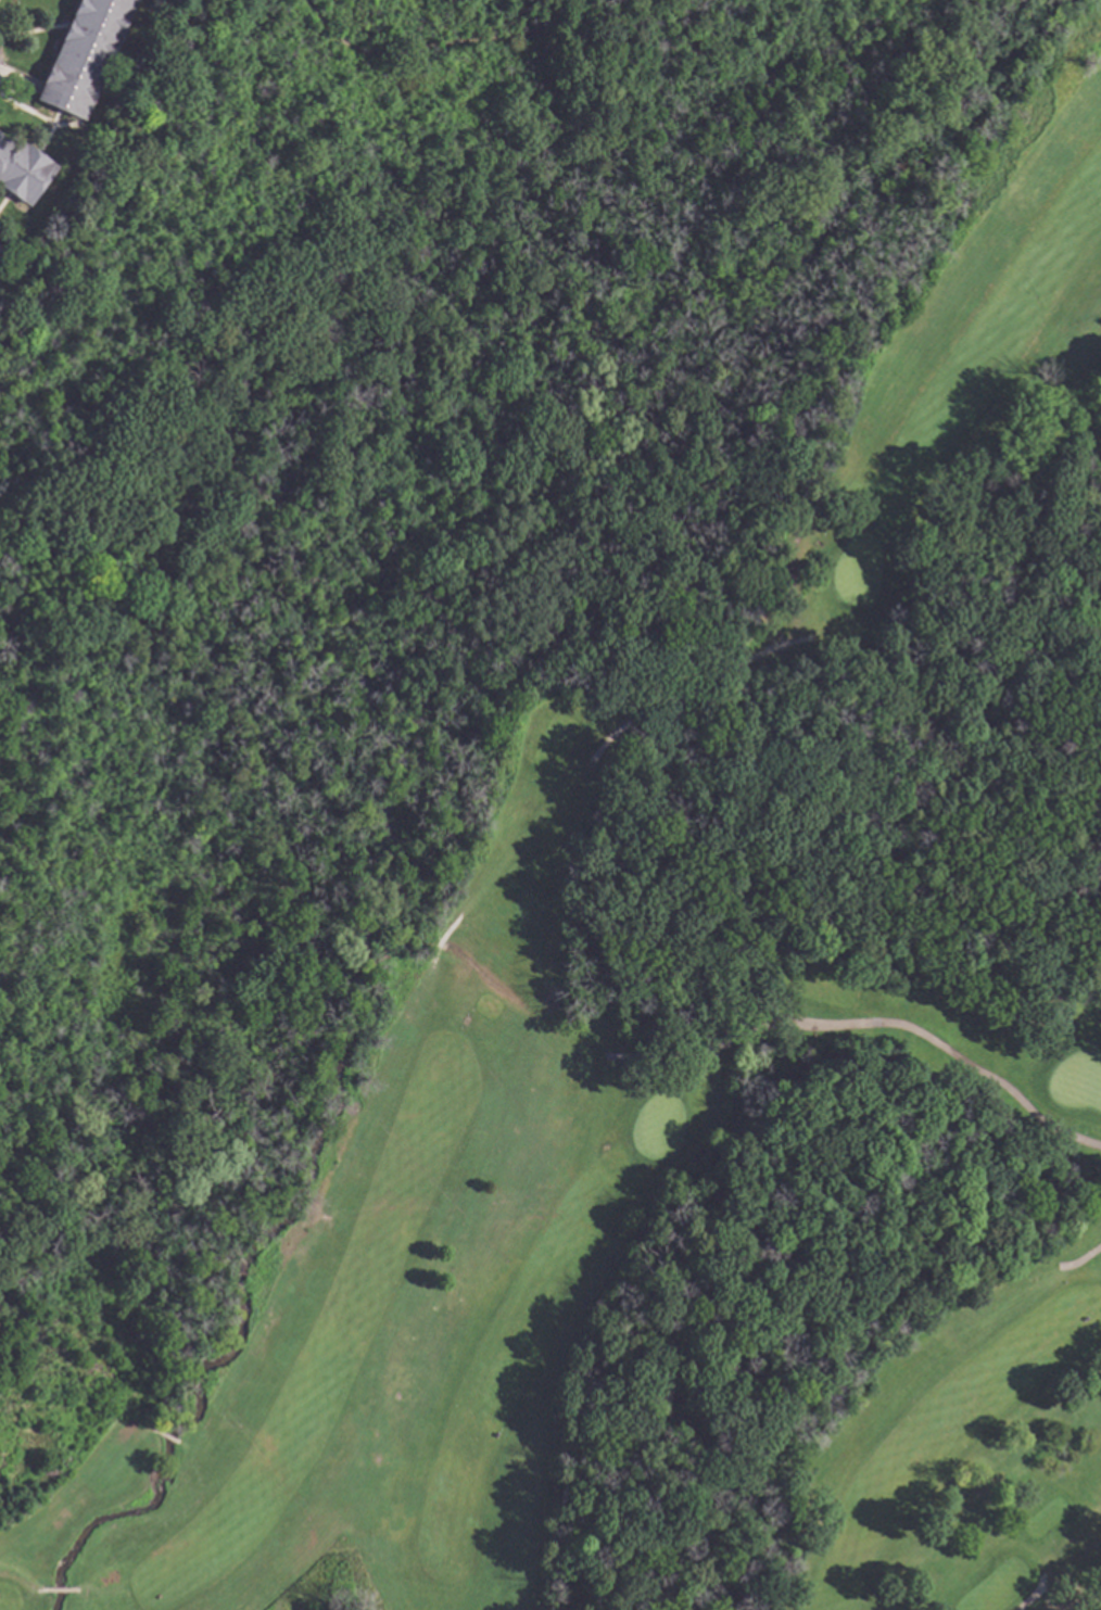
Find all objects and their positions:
road: (654, 24)
building: (84, 54)
road: (13, 75)
building: (22, 170)
building: (1, 252)
road: (261, 523)
road: (799, 543)
road: (683, 698)
park: (557, 814)
road: (441, 937)
road: (865, 1027)
park: (720, 1048)
road: (1080, 1260)
road: (162, 1436)
road: (18, 1583)
road: (41, 1590)
road: (56, 1590)
road: (71, 1592)
road: (1030, 1593)

